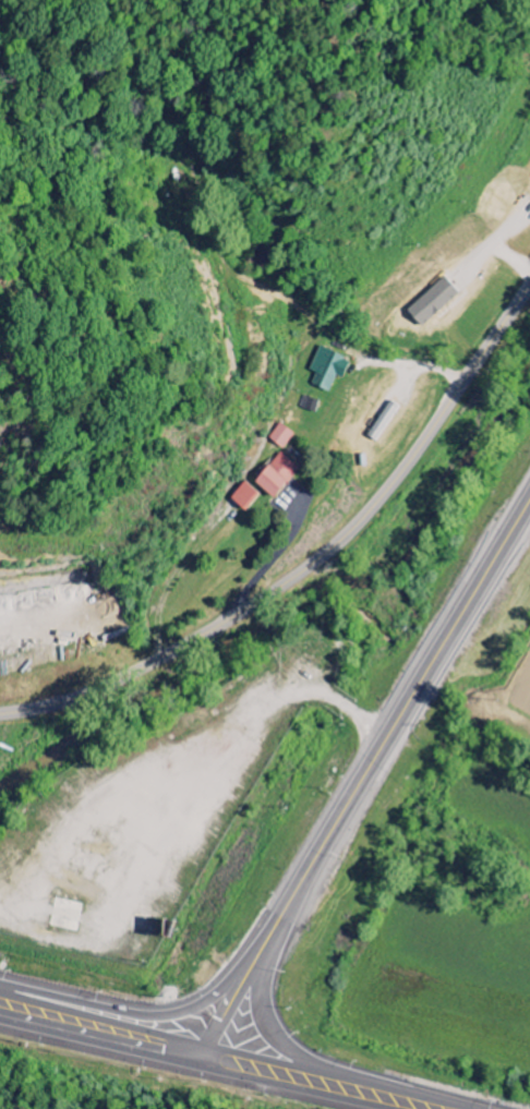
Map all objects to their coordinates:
building: (324, 369)
building: (303, 405)
building: (278, 437)
building: (273, 475)
building: (241, 497)
road: (313, 560)
road: (311, 695)
river: (15, 773)
road: (364, 779)
road: (104, 1016)
road: (99, 1042)
road: (321, 1065)
road: (312, 1083)

